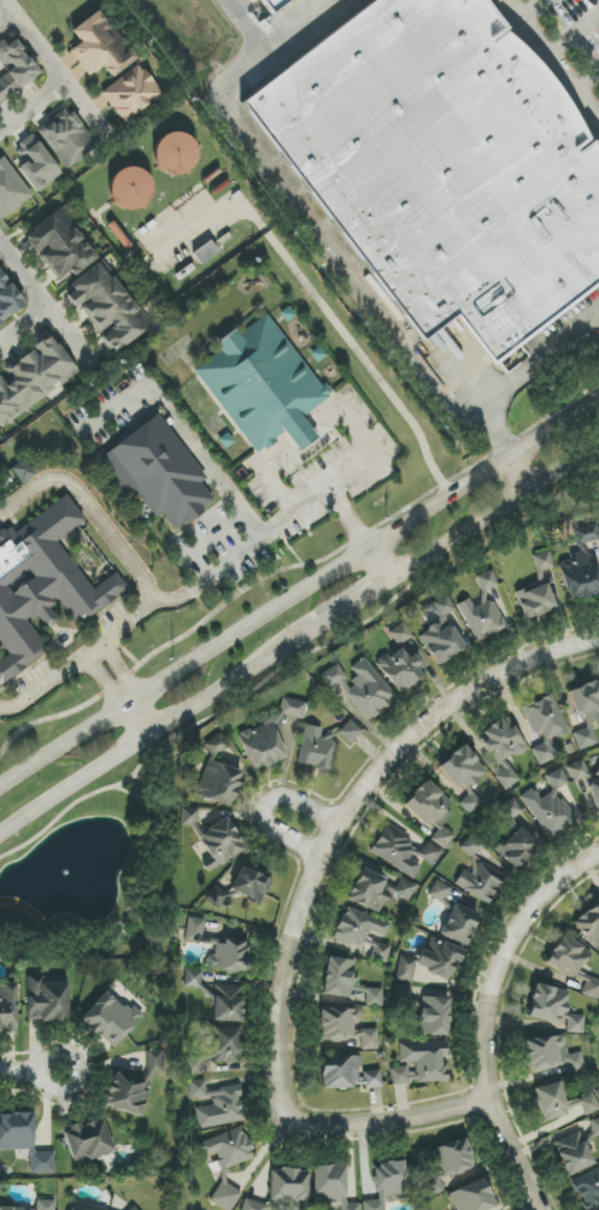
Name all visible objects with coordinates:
building: (275, 5)
road: (513, 7)
road: (527, 10)
building: (99, 46)
building: (14, 67)
road: (48, 67)
road: (558, 67)
road: (587, 81)
building: (131, 93)
road: (31, 107)
building: (66, 137)
building: (174, 153)
building: (35, 164)
building: (444, 165)
building: (130, 187)
building: (10, 189)
road: (322, 239)
building: (59, 246)
building: (7, 299)
road: (43, 302)
building: (106, 307)
road: (336, 323)
road: (24, 324)
road: (532, 369)
building: (34, 378)
building: (262, 386)
road: (304, 433)
road: (183, 435)
building: (23, 471)
building: (158, 472)
road: (517, 472)
road: (270, 477)
road: (90, 509)
road: (493, 510)
road: (348, 517)
building: (586, 534)
road: (212, 538)
road: (377, 563)
building: (541, 565)
road: (218, 571)
building: (580, 575)
building: (46, 577)
road: (298, 593)
building: (535, 601)
road: (351, 603)
building: (440, 633)
building: (400, 660)
road: (111, 677)
building: (359, 687)
building: (586, 700)
road: (139, 719)
building: (545, 726)
road: (157, 729)
building: (350, 732)
building: (269, 735)
building: (585, 738)
building: (501, 740)
building: (216, 745)
building: (315, 748)
building: (577, 770)
building: (464, 776)
building: (506, 779)
building: (218, 783)
building: (593, 788)
road: (263, 805)
building: (550, 806)
building: (188, 817)
road: (339, 817)
building: (437, 828)
building: (221, 841)
building: (515, 847)
building: (477, 875)
building: (249, 885)
building: (377, 891)
building: (439, 892)
building: (216, 897)
building: (458, 924)
building: (589, 926)
building: (194, 929)
building: (363, 933)
building: (228, 957)
building: (439, 958)
building: (572, 964)
building: (405, 969)
building: (337, 977)
building: (192, 979)
building: (46, 998)
building: (228, 1003)
building: (7, 1008)
building: (553, 1008)
building: (424, 1010)
road: (487, 1016)
building: (110, 1018)
building: (346, 1028)
building: (215, 1050)
building: (551, 1055)
building: (154, 1062)
building: (421, 1063)
road: (19, 1068)
building: (346, 1073)
road: (65, 1088)
building: (127, 1094)
building: (560, 1103)
building: (217, 1104)
road: (394, 1121)
building: (23, 1140)
building: (87, 1140)
building: (228, 1149)
building: (576, 1149)
building: (447, 1165)
building: (387, 1183)
building: (331, 1186)
building: (587, 1188)
building: (283, 1190)
building: (225, 1196)
building: (471, 1197)
building: (37, 1205)
building: (83, 1206)
building: (133, 1209)

